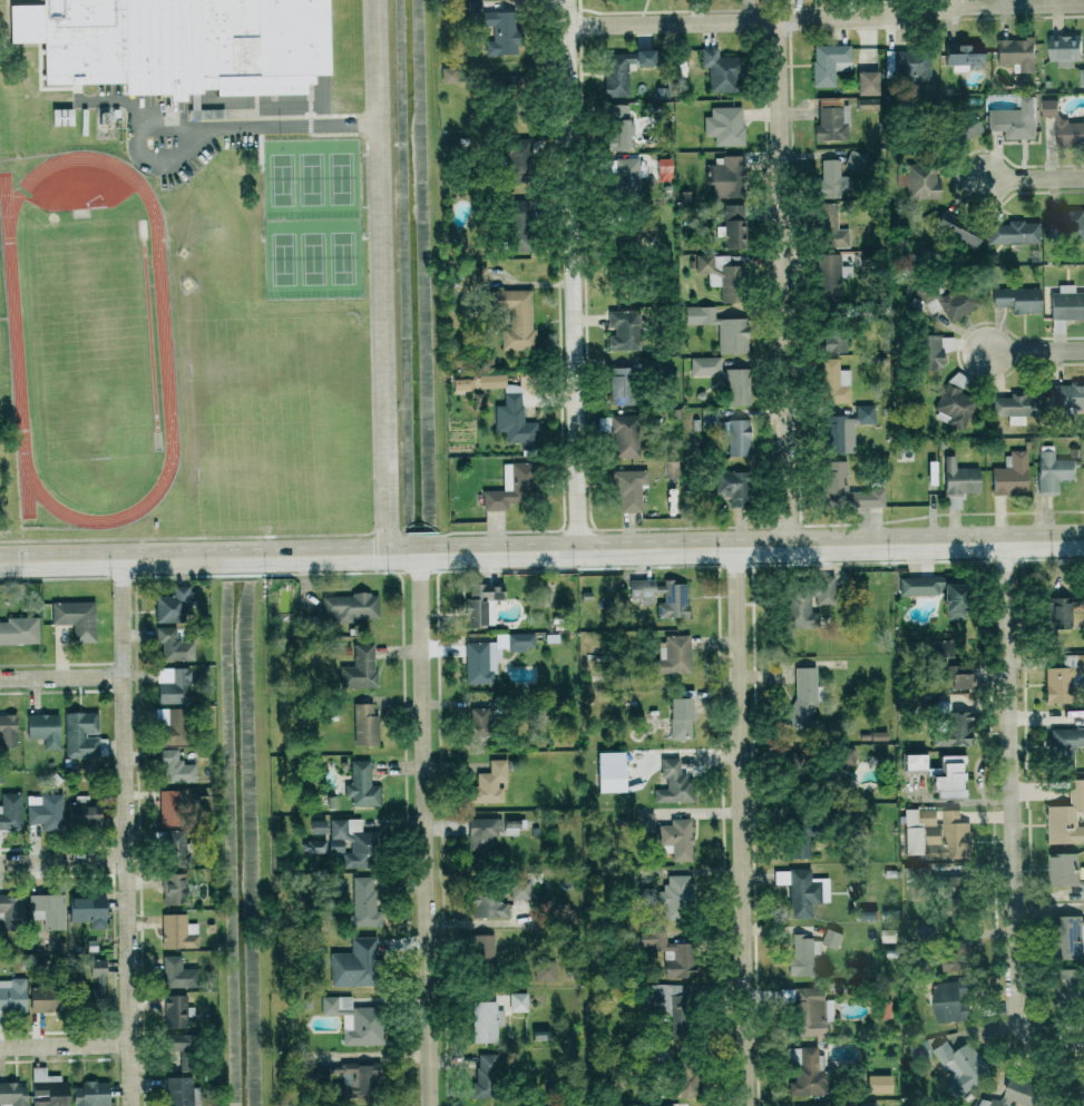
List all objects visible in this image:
road: (827, 20)
building: (495, 27)
building: (172, 48)
building: (1064, 49)
building: (1016, 52)
building: (644, 57)
building: (829, 62)
building: (720, 70)
building: (449, 74)
building: (616, 74)
building: (1081, 77)
building: (867, 82)
building: (867, 104)
building: (1015, 119)
building: (831, 124)
building: (1064, 125)
road: (261, 126)
building: (727, 126)
building: (618, 127)
building: (964, 128)
building: (514, 160)
building: (664, 165)
building: (624, 173)
building: (724, 176)
road: (1034, 178)
building: (832, 179)
building: (921, 180)
park: (311, 216)
building: (648, 223)
building: (1066, 224)
building: (516, 225)
building: (733, 226)
building: (830, 227)
building: (957, 231)
building: (1015, 232)
building: (828, 271)
road: (573, 273)
road: (380, 275)
building: (721, 275)
building: (477, 276)
road: (784, 282)
building: (948, 298)
building: (1017, 298)
building: (1066, 303)
building: (515, 317)
building: (721, 327)
building: (623, 330)
track: (18, 339)
building: (832, 343)
building: (934, 351)
road: (1038, 352)
building: (489, 381)
building: (833, 382)
building: (621, 385)
building: (738, 390)
building: (1066, 394)
building: (954, 404)
building: (1016, 407)
building: (863, 413)
building: (517, 418)
building: (711, 418)
building: (622, 434)
building: (833, 434)
building: (738, 438)
building: (671, 469)
building: (1053, 470)
building: (1010, 474)
building: (958, 482)
building: (511, 487)
building: (732, 487)
building: (846, 489)
building: (629, 490)
road: (541, 548)
building: (939, 593)
building: (675, 598)
building: (805, 601)
building: (481, 604)
building: (174, 605)
building: (349, 607)
building: (1056, 613)
building: (76, 618)
building: (19, 630)
building: (173, 645)
building: (673, 655)
building: (491, 656)
building: (360, 668)
building: (948, 668)
road: (61, 677)
building: (1064, 678)
building: (173, 685)
building: (802, 696)
building: (681, 718)
building: (479, 721)
building: (364, 724)
building: (170, 725)
building: (949, 726)
building: (43, 730)
building: (8, 731)
building: (81, 734)
building: (1064, 745)
building: (846, 756)
building: (914, 762)
building: (175, 767)
building: (948, 777)
building: (490, 783)
building: (672, 783)
building: (361, 785)
building: (169, 808)
building: (43, 810)
building: (82, 811)
building: (10, 812)
building: (1067, 816)
road: (1009, 820)
building: (644, 821)
road: (742, 825)
building: (318, 828)
building: (511, 828)
road: (423, 829)
building: (917, 829)
road: (125, 831)
building: (482, 834)
building: (798, 834)
building: (948, 838)
building: (676, 839)
building: (351, 842)
building: (173, 846)
building: (313, 846)
road: (62, 860)
building: (1065, 871)
building: (173, 890)
building: (519, 890)
building: (799, 891)
building: (643, 894)
building: (674, 898)
building: (364, 902)
building: (487, 906)
building: (12, 908)
building: (48, 910)
building: (87, 910)
road: (476, 922)
building: (177, 931)
building: (1067, 937)
building: (831, 938)
building: (482, 951)
building: (671, 953)
building: (802, 956)
building: (354, 965)
building: (545, 971)
building: (176, 973)
building: (100, 982)
building: (1070, 985)
building: (12, 995)
building: (42, 999)
building: (664, 999)
building: (950, 1000)
building: (518, 1002)
building: (175, 1011)
building: (810, 1012)
building: (354, 1020)
building: (485, 1021)
road: (65, 1045)
building: (961, 1066)
building: (804, 1071)
building: (318, 1074)
building: (484, 1077)
building: (357, 1081)
building: (685, 1081)
building: (879, 1084)
building: (47, 1088)
building: (178, 1092)
building: (13, 1094)
building: (90, 1094)
building: (1016, 1094)
building: (868, 1104)
building: (820, 1105)

